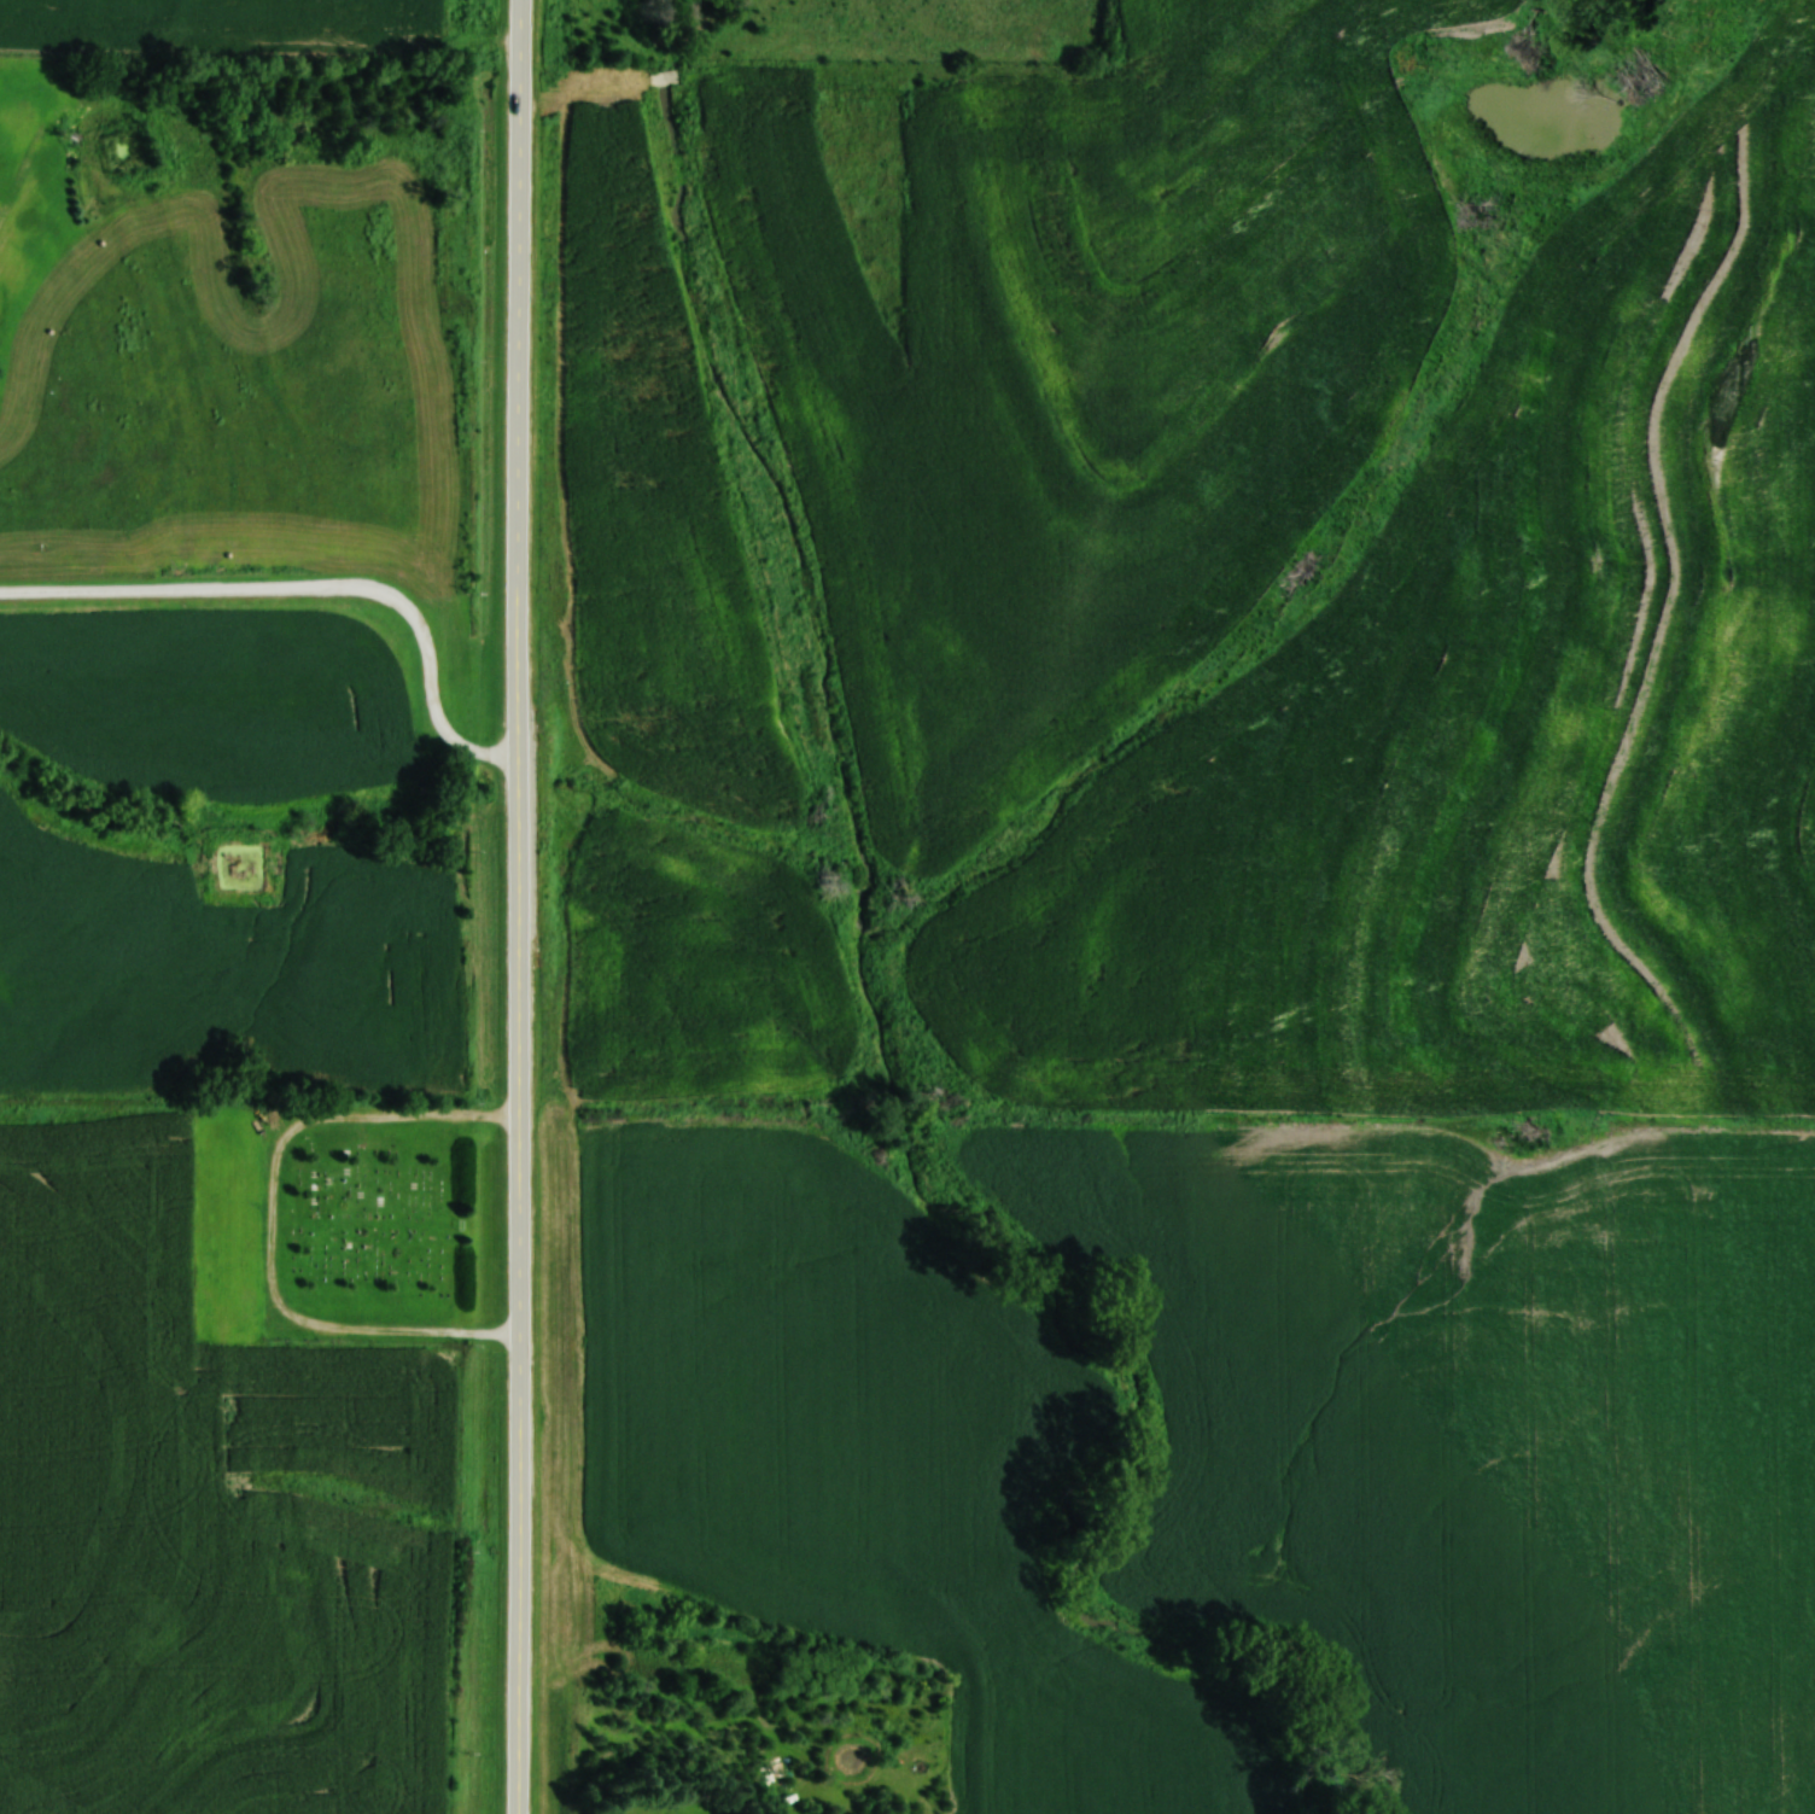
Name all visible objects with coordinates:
road: (517, 906)

